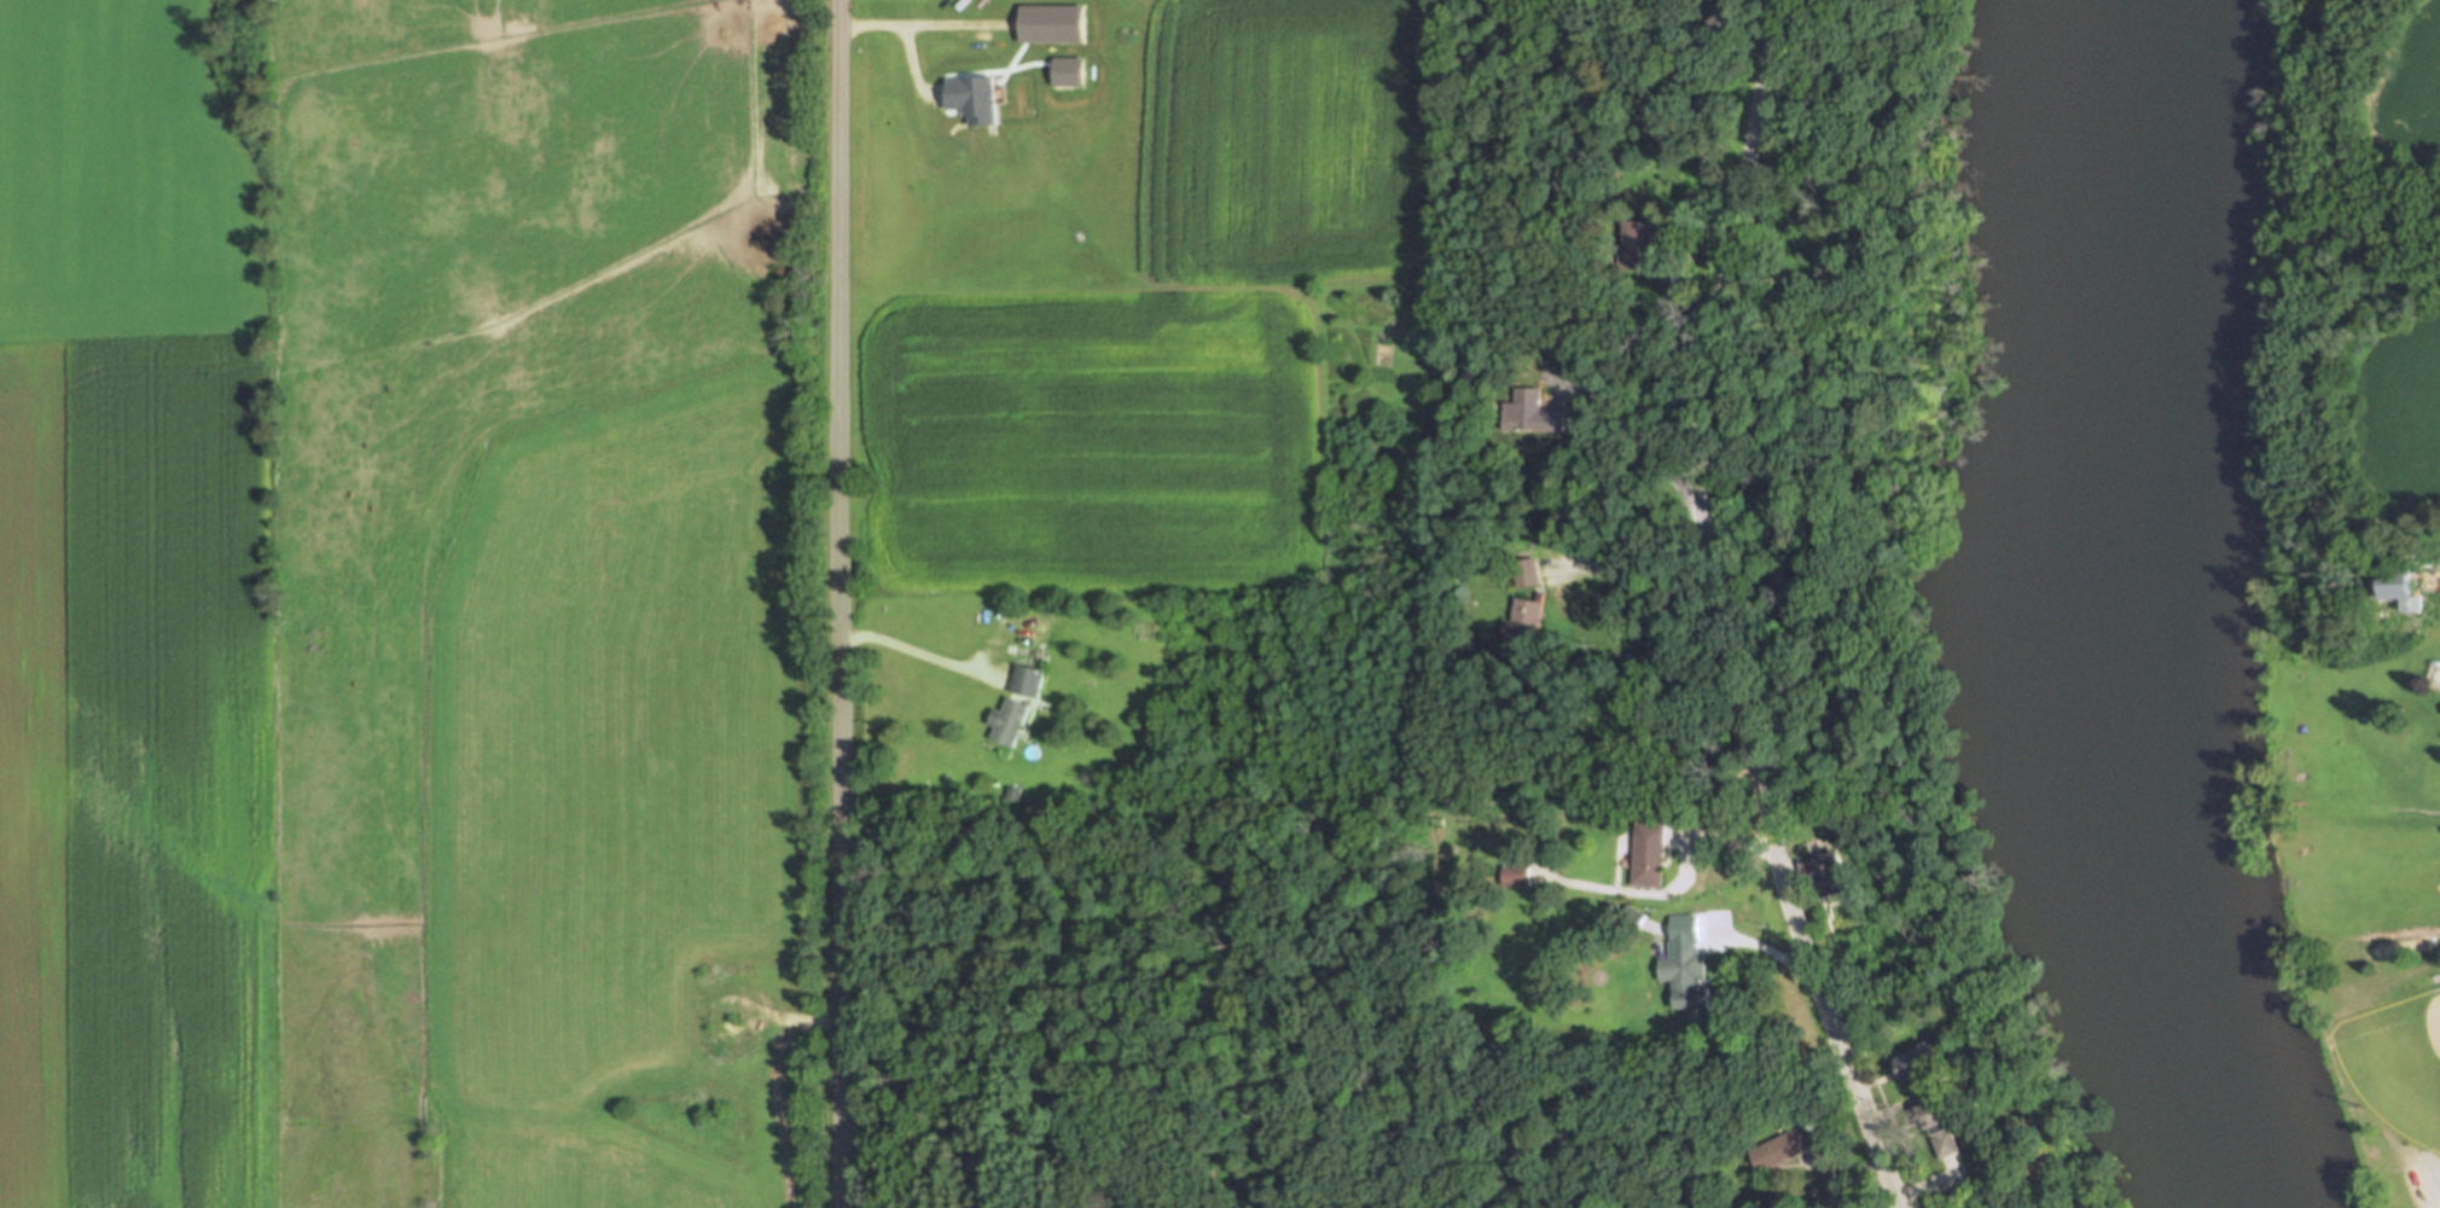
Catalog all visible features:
road: (1777, 10)
building: (1638, 237)
road: (1680, 303)
building: (1533, 413)
road: (1627, 428)
building: (1527, 571)
road: (1644, 587)
road: (837, 604)
river: (2137, 611)
road: (1719, 612)
building: (1523, 621)
road: (920, 654)
building: (1030, 680)
building: (1012, 721)
building: (1651, 854)
building: (1831, 872)
building: (1517, 873)
road: (1790, 877)
road: (1673, 888)
building: (1633, 917)
road: (1762, 948)
building: (1686, 972)
park: (1150, 1003)
park: (2382, 1058)
park: (2398, 1058)
building: (1919, 1067)
building: (1947, 1121)
building: (1783, 1145)
road: (1846, 1171)
road: (2436, 1171)
road: (1928, 1184)

